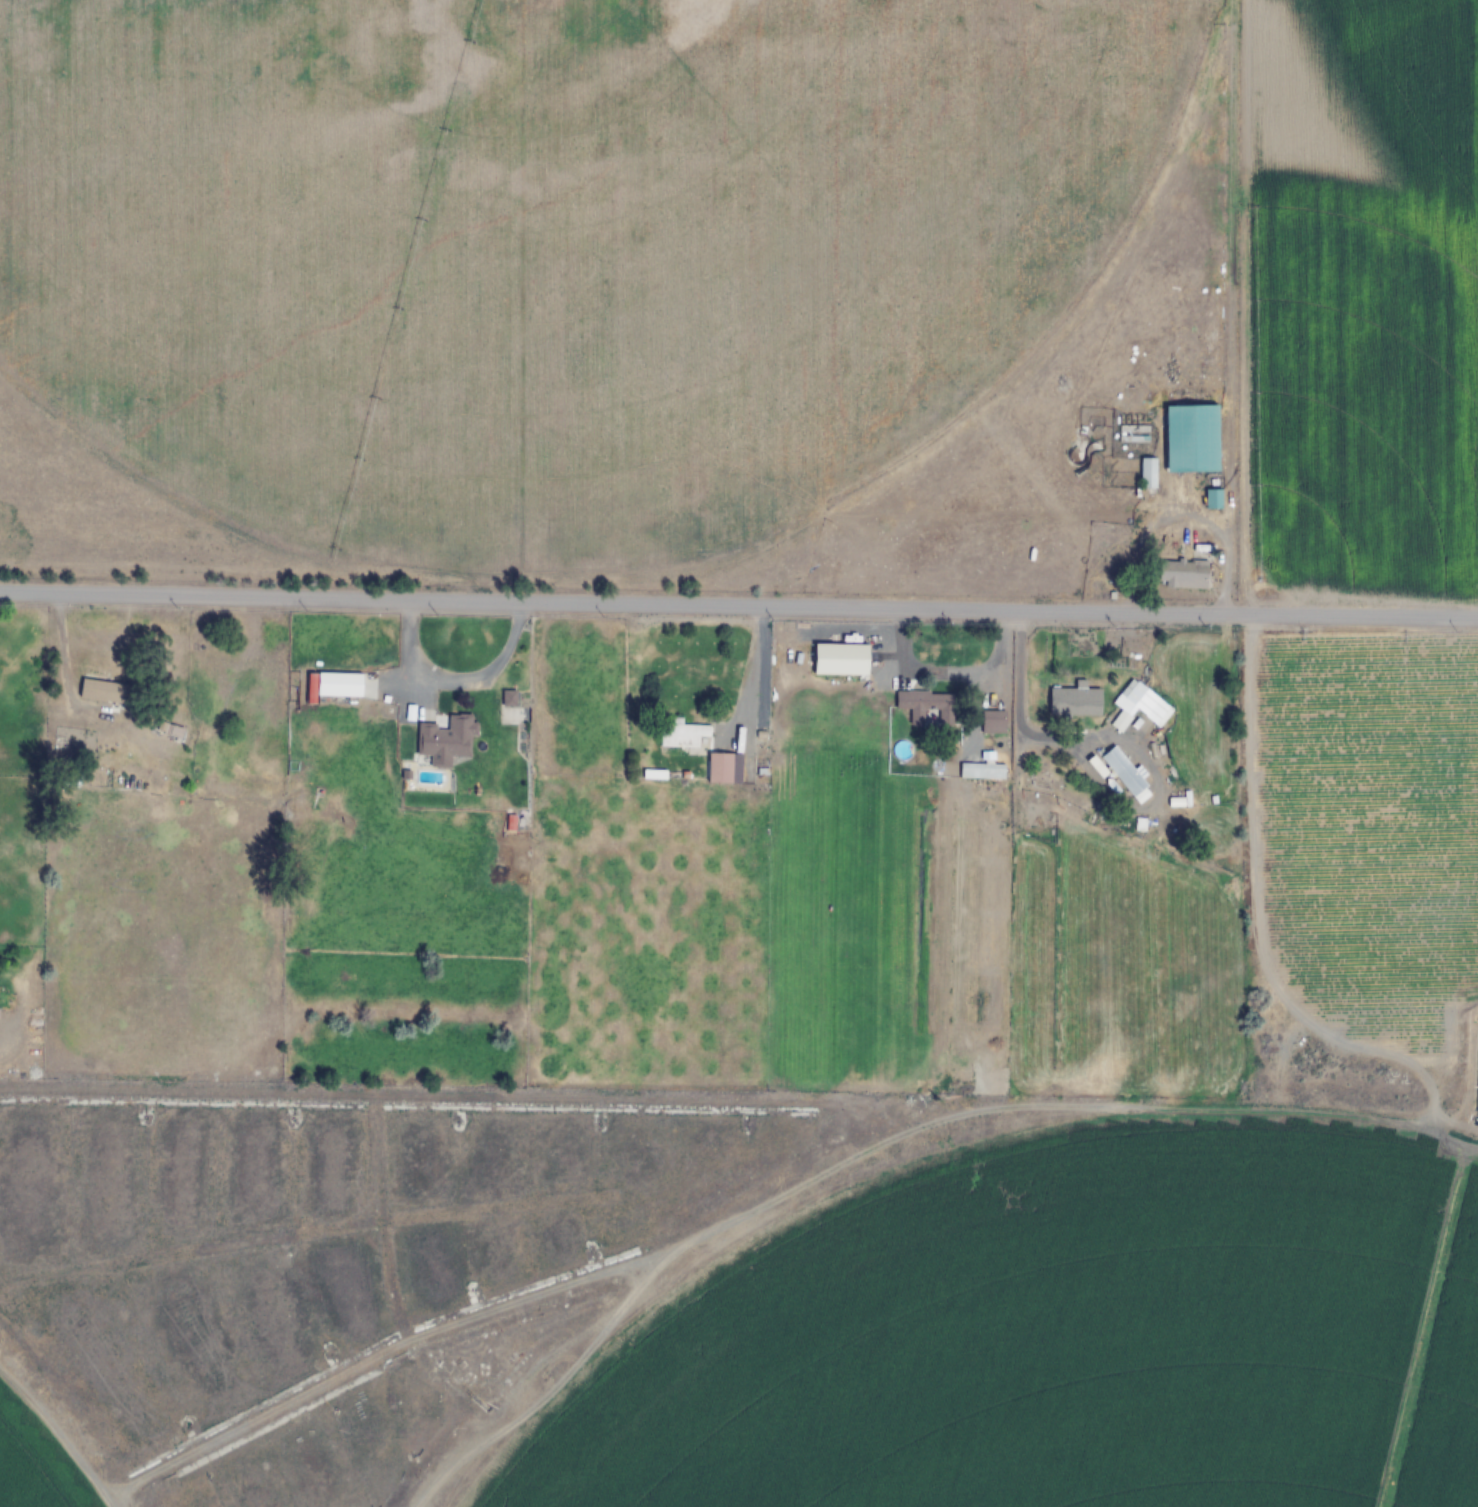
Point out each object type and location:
crop: (1417, 85)
crop: (548, 245)
crop: (1357, 419)
building: (1191, 440)
building: (1146, 474)
building: (930, 488)
building: (793, 572)
building: (1182, 574)
road: (739, 599)
building: (840, 660)
building: (337, 685)
building: (104, 690)
building: (508, 698)
building: (1144, 702)
building: (926, 707)
building: (1072, 707)
building: (992, 722)
building: (174, 731)
building: (681, 735)
building: (443, 740)
building: (719, 768)
building: (980, 771)
building: (1118, 772)
crop: (1369, 821)
building: (1263, 1227)
crop: (1067, 1342)
building: (1304, 1392)
crop: (33, 1471)

